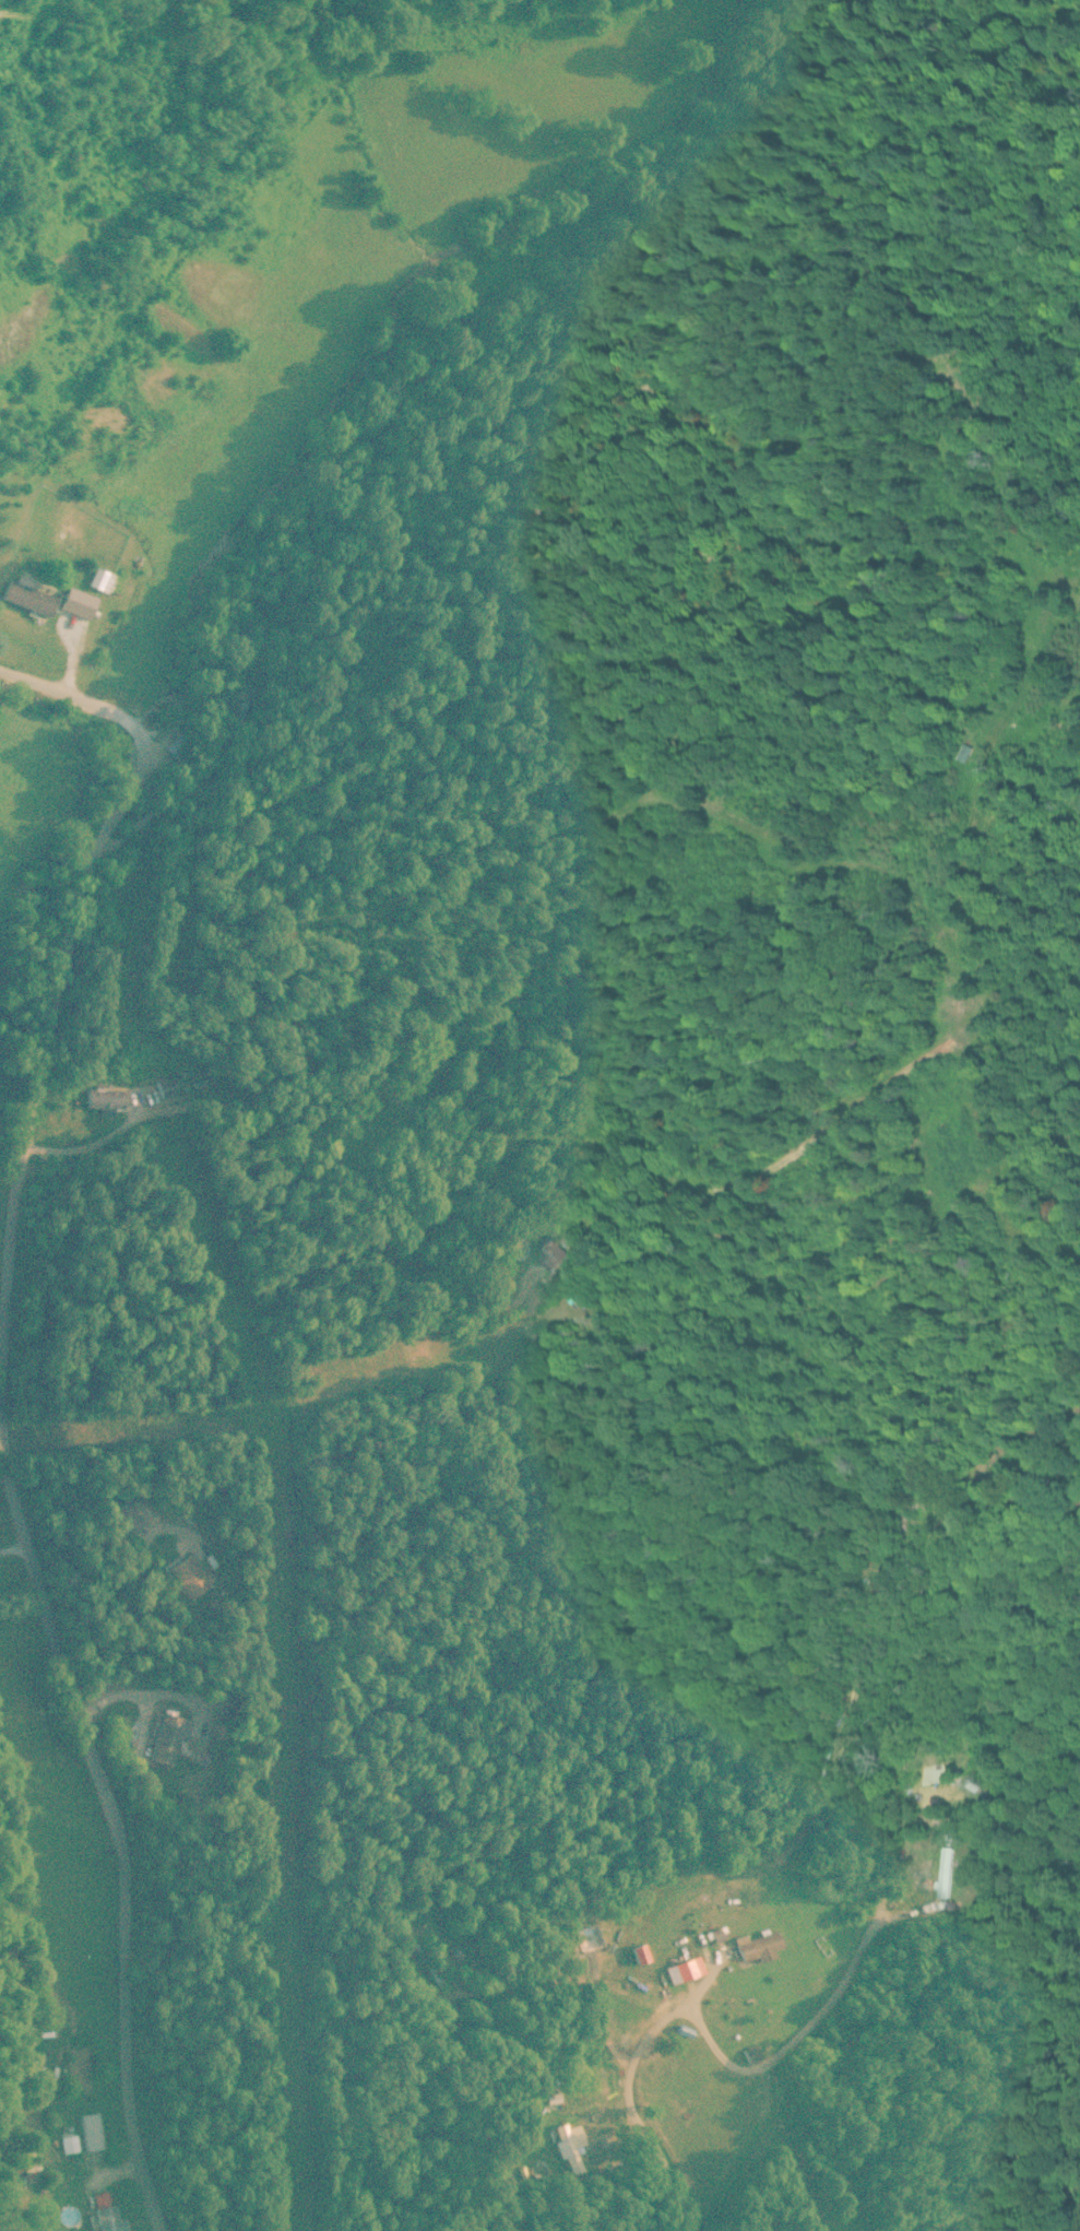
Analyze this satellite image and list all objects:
building: (71, 536)
building: (105, 578)
building: (33, 595)
building: (70, 623)
road: (84, 697)
building: (973, 751)
building: (966, 752)
road: (40, 1052)
building: (174, 1085)
building: (109, 1098)
road: (10, 1145)
building: (558, 1251)
building: (120, 1515)
road: (14, 1546)
building: (185, 1574)
building: (162, 1737)
road: (112, 1809)
building: (947, 1870)
building: (755, 1945)
building: (426, 1961)
building: (685, 1967)
road: (702, 2025)
building: (680, 2109)
building: (88, 2130)
building: (67, 2143)
building: (25, 2169)
building: (104, 2217)

